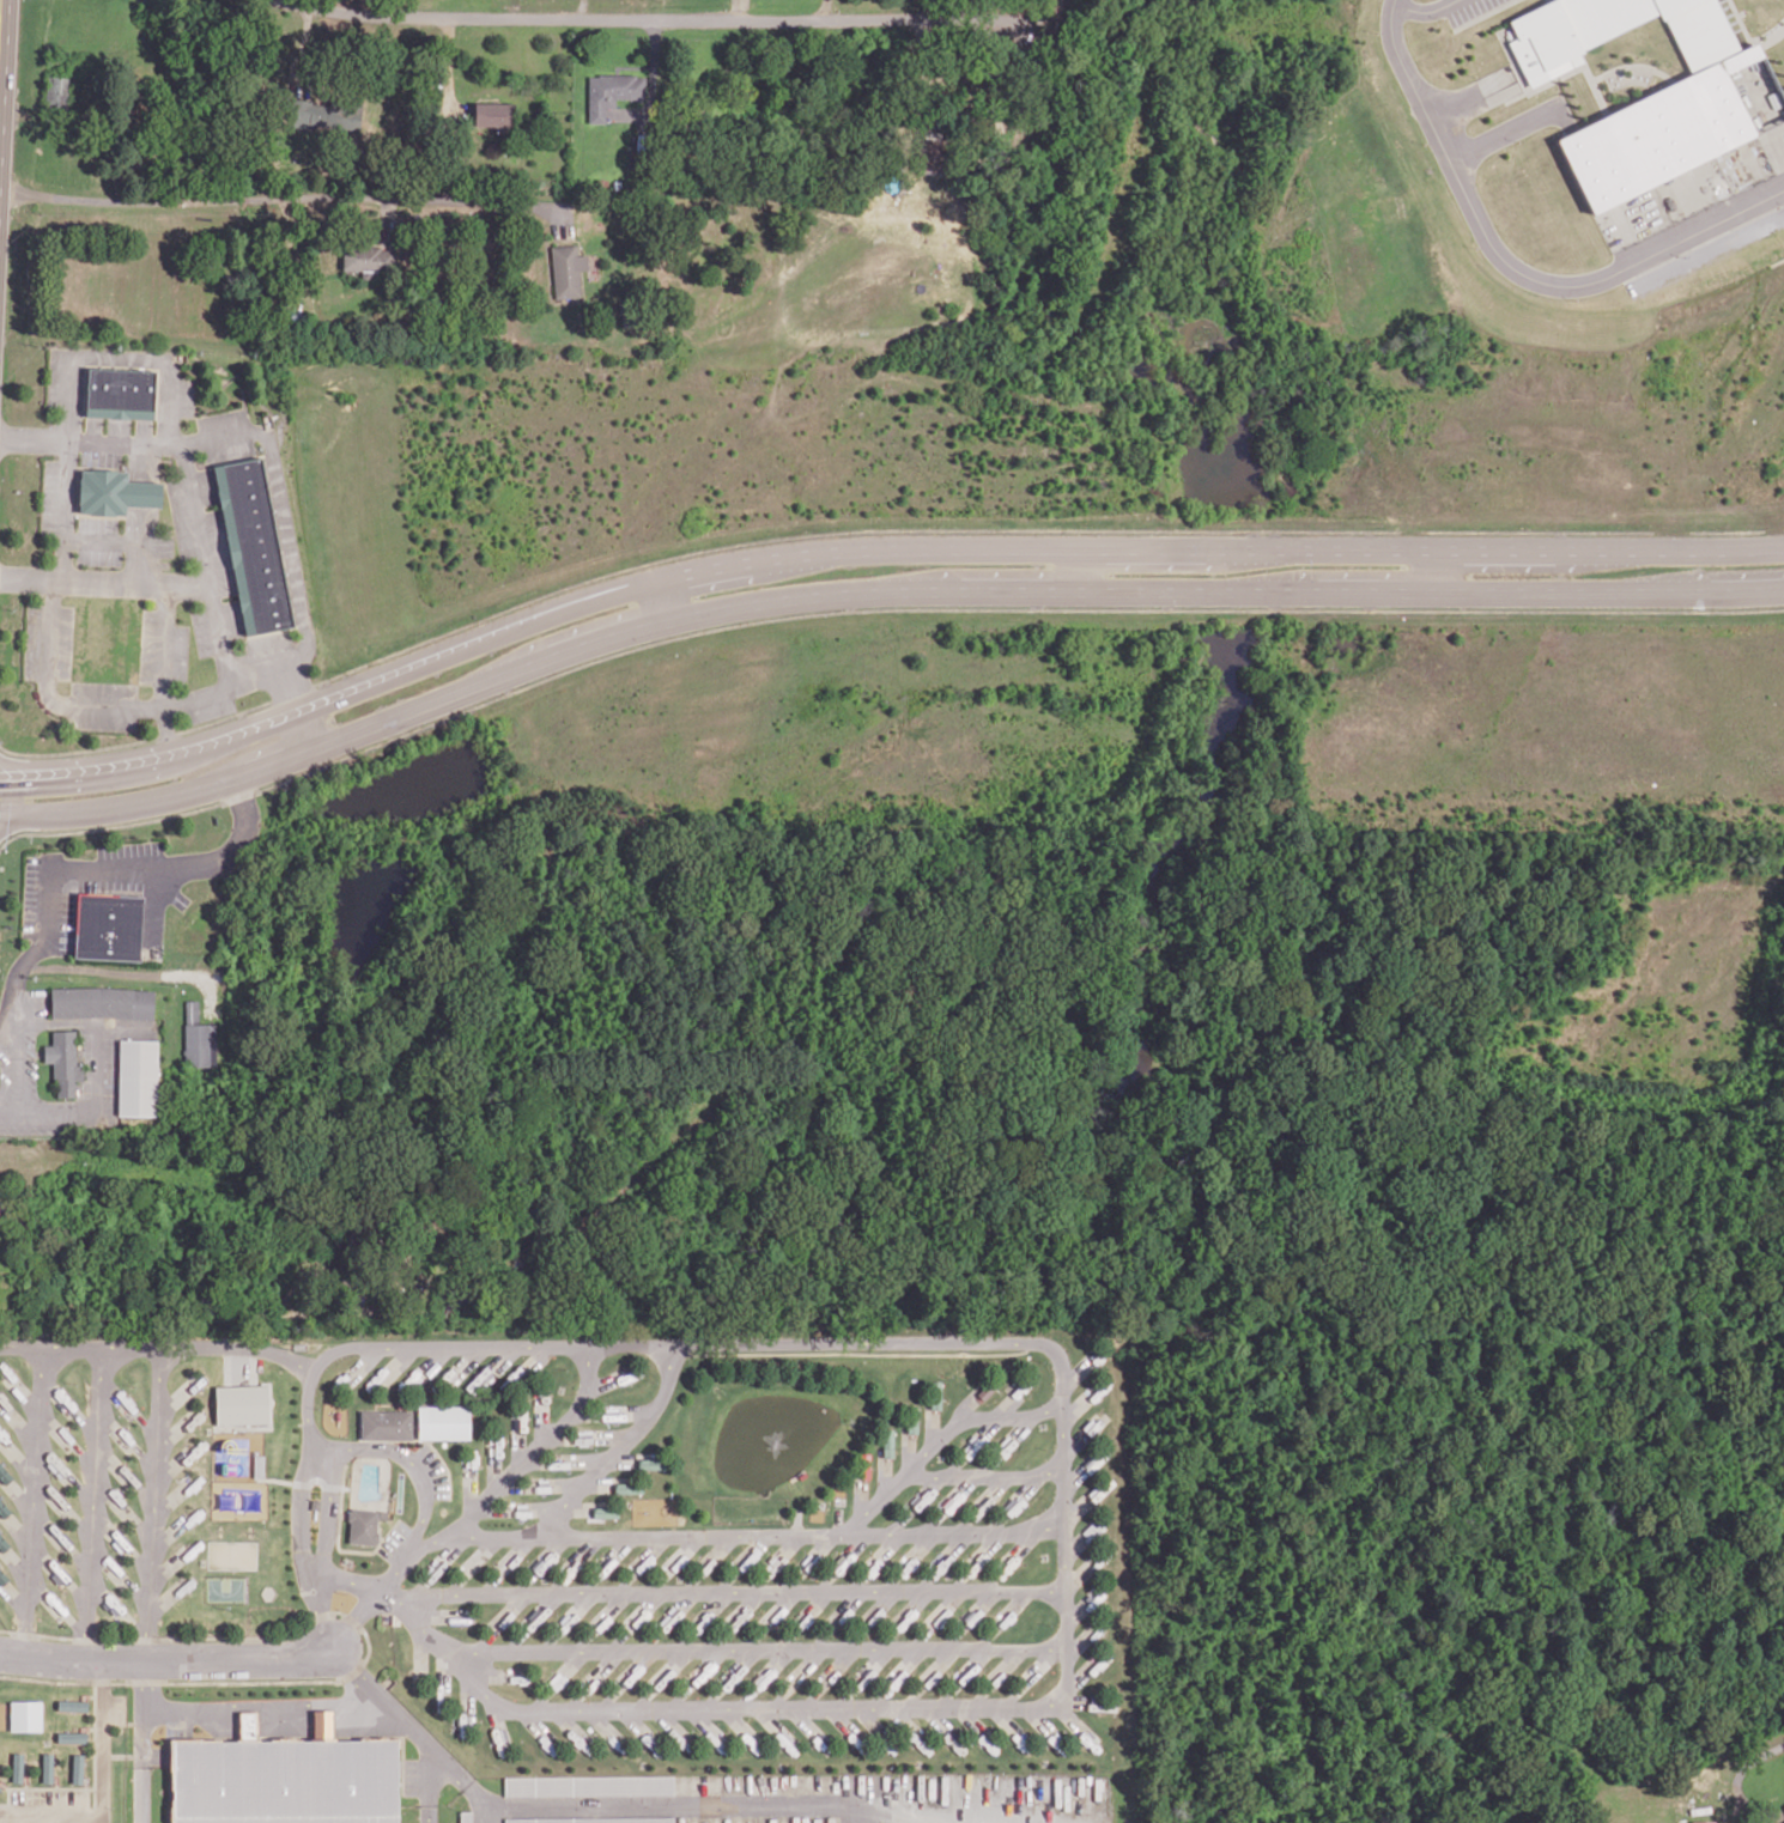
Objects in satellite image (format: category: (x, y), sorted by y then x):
road: (818, 11)
parking lot: (1463, 12)
road: (623, 19)
road: (1424, 19)
road: (1378, 23)
road: (447, 78)
building: (612, 92)
road: (1458, 104)
building: (348, 113)
building: (492, 114)
building: (1680, 114)
road: (1498, 142)
road: (274, 195)
building: (365, 259)
building: (566, 271)
road: (1522, 290)
building: (120, 393)
road: (174, 438)
road: (122, 442)
building: (115, 492)
road: (66, 506)
building: (253, 546)
road: (872, 549)
building: (290, 557)
road: (1073, 570)
road: (1443, 570)
road: (136, 581)
road: (873, 593)
road: (667, 597)
road: (222, 688)
road: (50, 692)
road: (312, 730)
road: (128, 870)
building: (108, 926)
road: (131, 973)
road: (10, 993)
building: (102, 1002)
building: (198, 1038)
building: (63, 1062)
road: (13, 1065)
building: (138, 1077)
road: (158, 1318)
road: (301, 1363)
building: (935, 1394)
building: (242, 1404)
building: (443, 1422)
building: (386, 1424)
road: (937, 1438)
building: (887, 1442)
road: (621, 1445)
road: (522, 1463)
building: (651, 1464)
building: (259, 1465)
building: (4, 1475)
road: (982, 1476)
building: (626, 1487)
road: (34, 1500)
road: (92, 1501)
road: (152, 1502)
building: (4, 1509)
road: (327, 1512)
building: (603, 1512)
road: (1063, 1512)
road: (423, 1517)
building: (363, 1526)
road: (759, 1532)
building: (2, 1543)
building: (644, 1563)
building: (2, 1578)
road: (347, 1580)
road: (723, 1591)
road: (753, 1649)
road: (166, 1659)
road: (262, 1700)
building: (73, 1704)
road: (142, 1709)
building: (26, 1715)
road: (415, 1731)
building: (72, 1737)
building: (678, 1739)
building: (953, 1740)
building: (18, 1767)
building: (48, 1767)
building: (78, 1768)
road: (427, 1768)
building: (285, 1778)
building: (588, 1785)
road: (142, 1792)
road: (429, 1798)
road: (776, 1804)
building: (1783, 1805)
street lamp: (111, 1806)
road: (429, 1812)
building: (466, 1817)
building: (591, 1819)
building: (1703, 1822)

